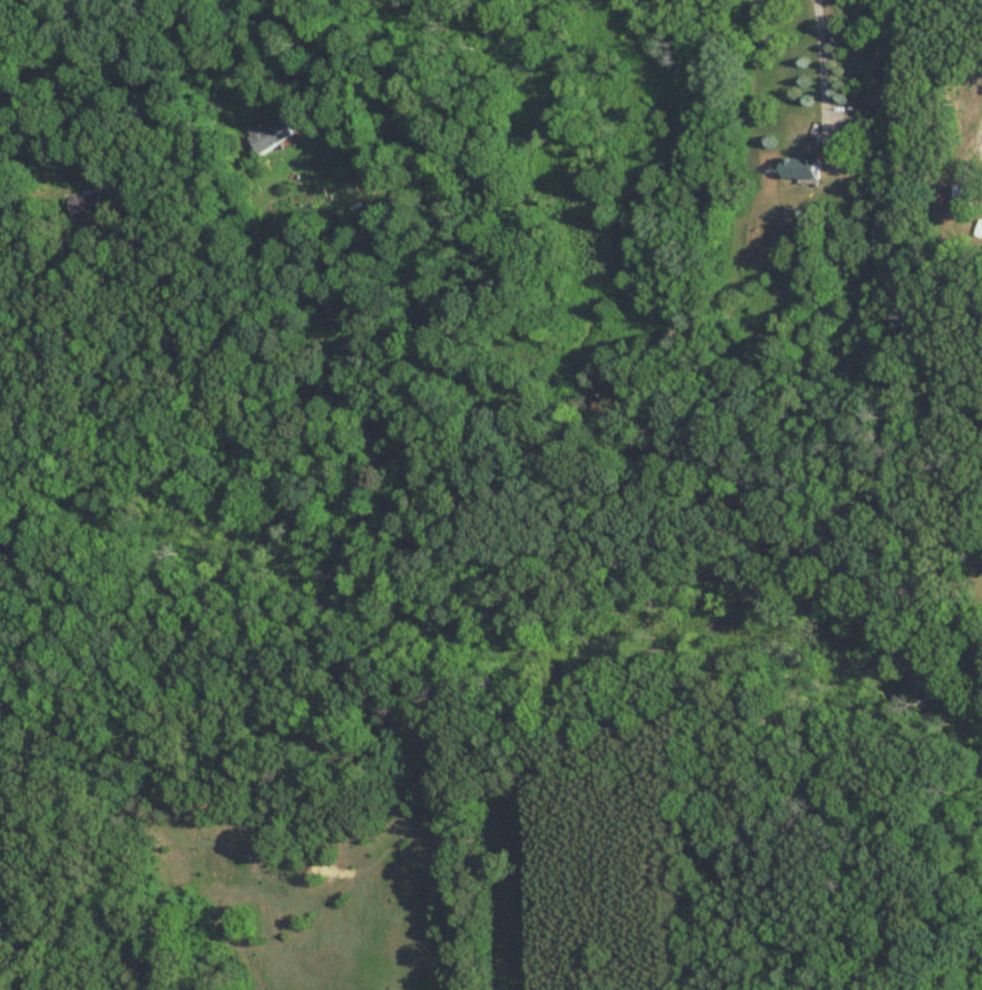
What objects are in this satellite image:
road: (980, 6)
road: (251, 45)
road: (822, 71)
road: (73, 81)
building: (269, 136)
building: (800, 171)
building: (125, 191)
building: (960, 201)
building: (85, 207)

